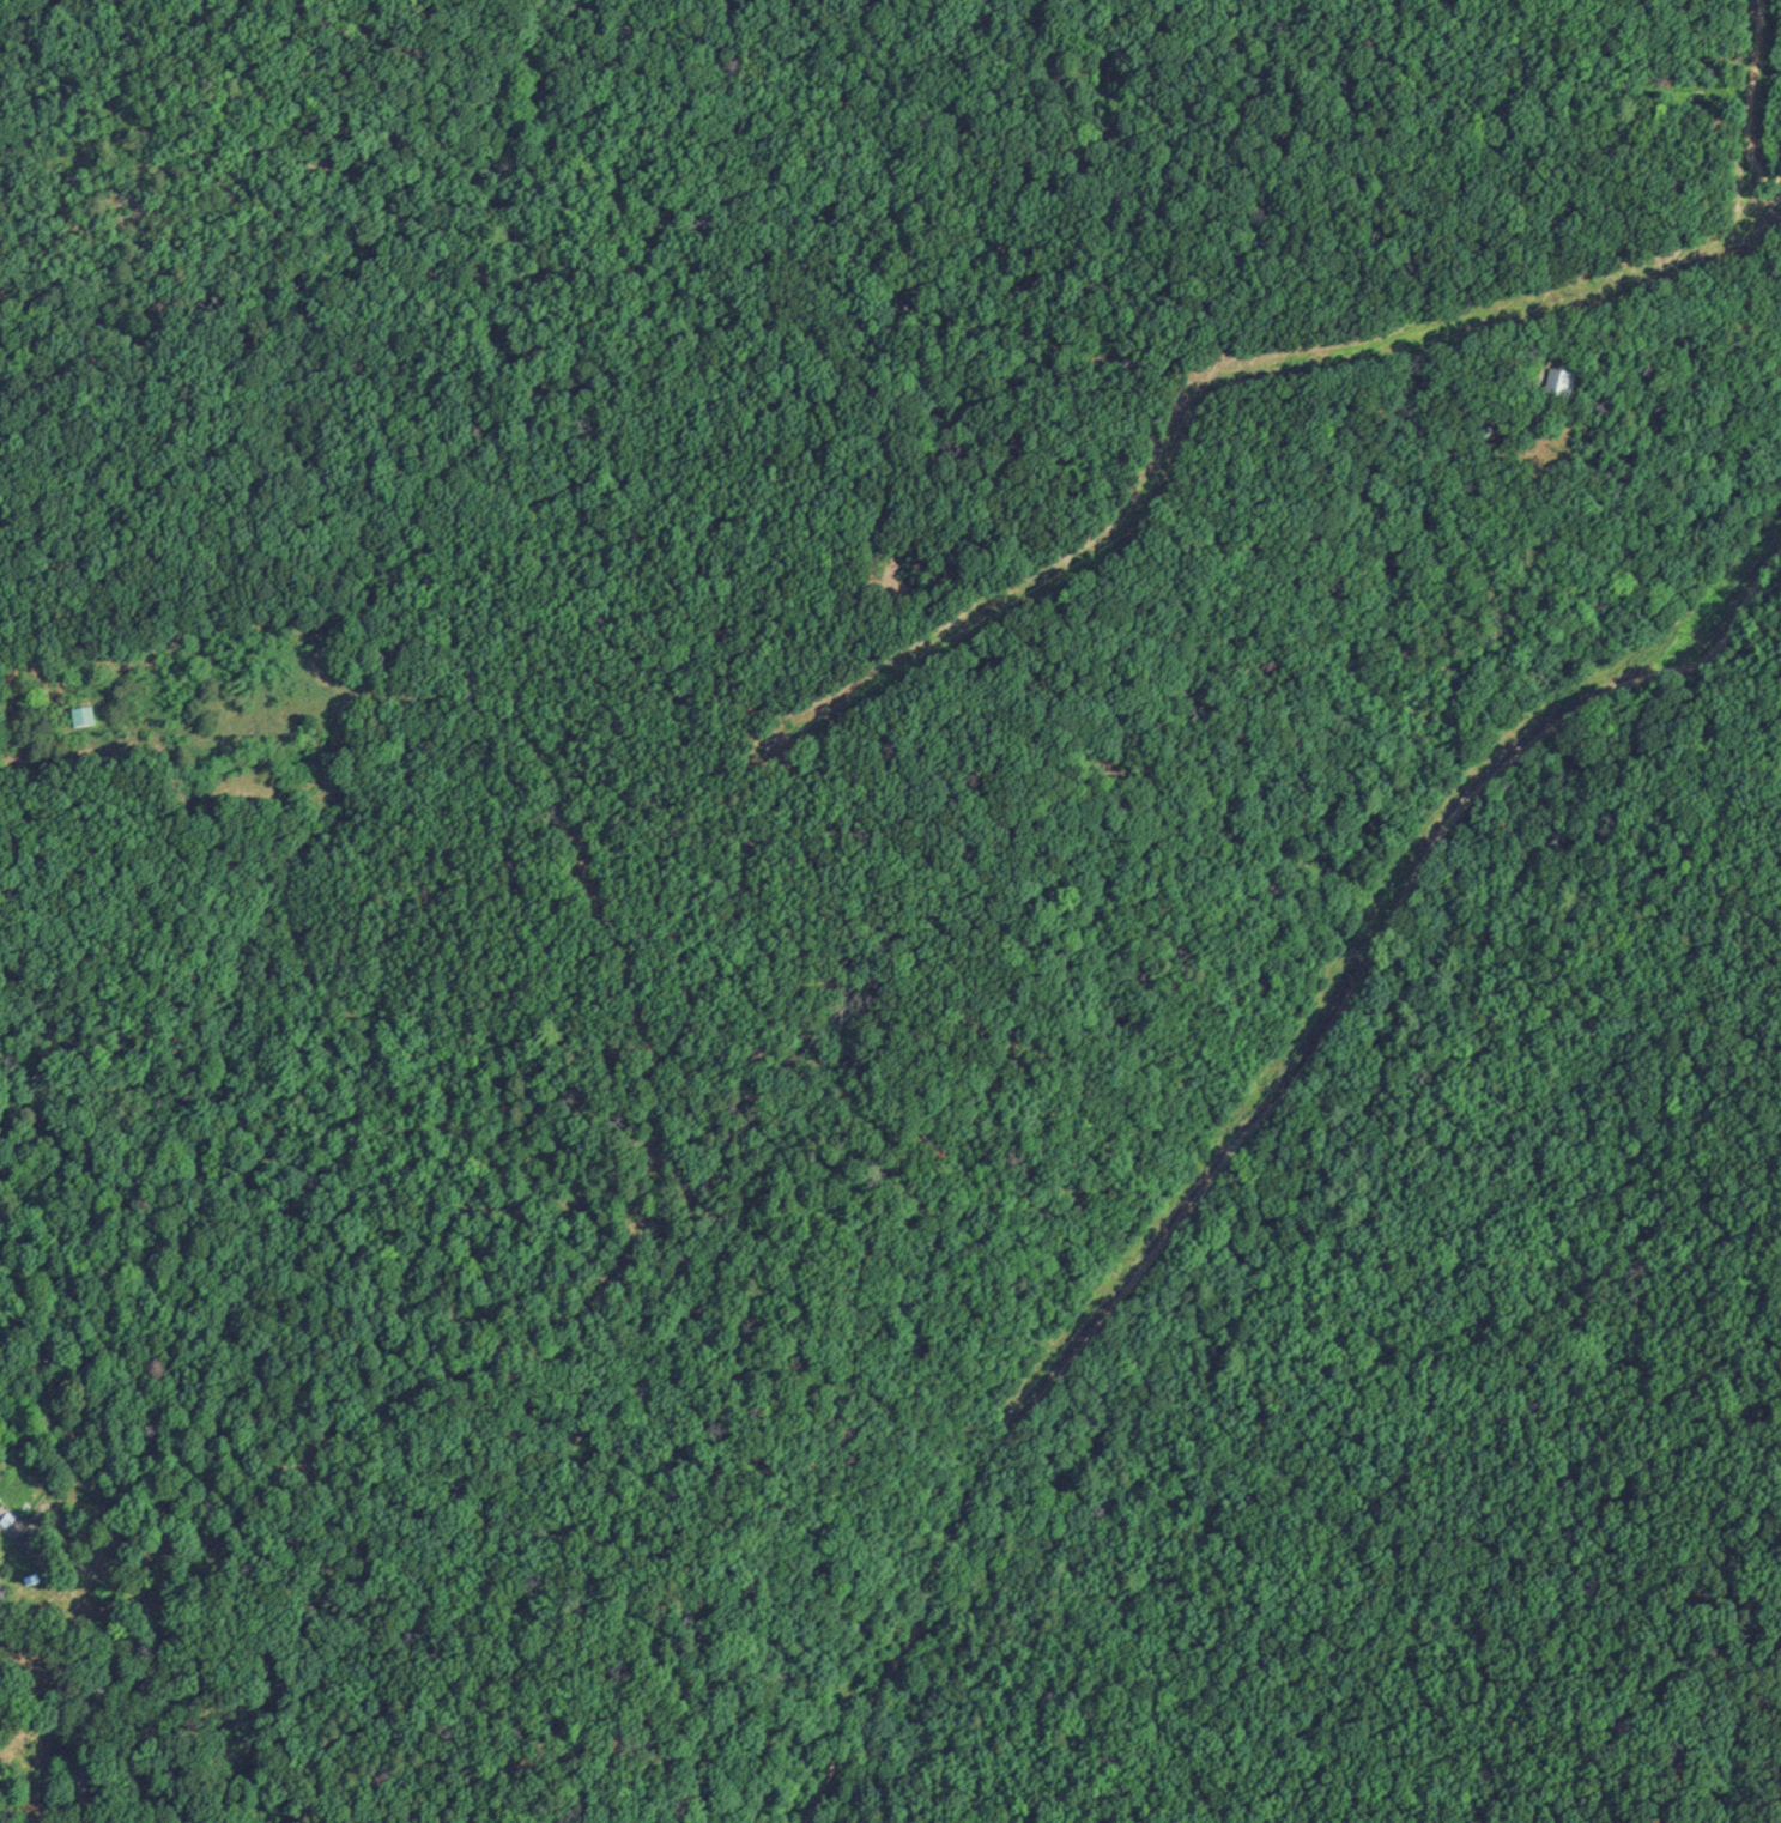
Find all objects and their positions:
road: (1749, 101)
road: (1677, 271)
road: (1152, 474)
road: (733, 911)
road: (1243, 1137)
road: (661, 1171)
road: (8, 1604)
road: (7, 1622)
road: (86, 1709)

